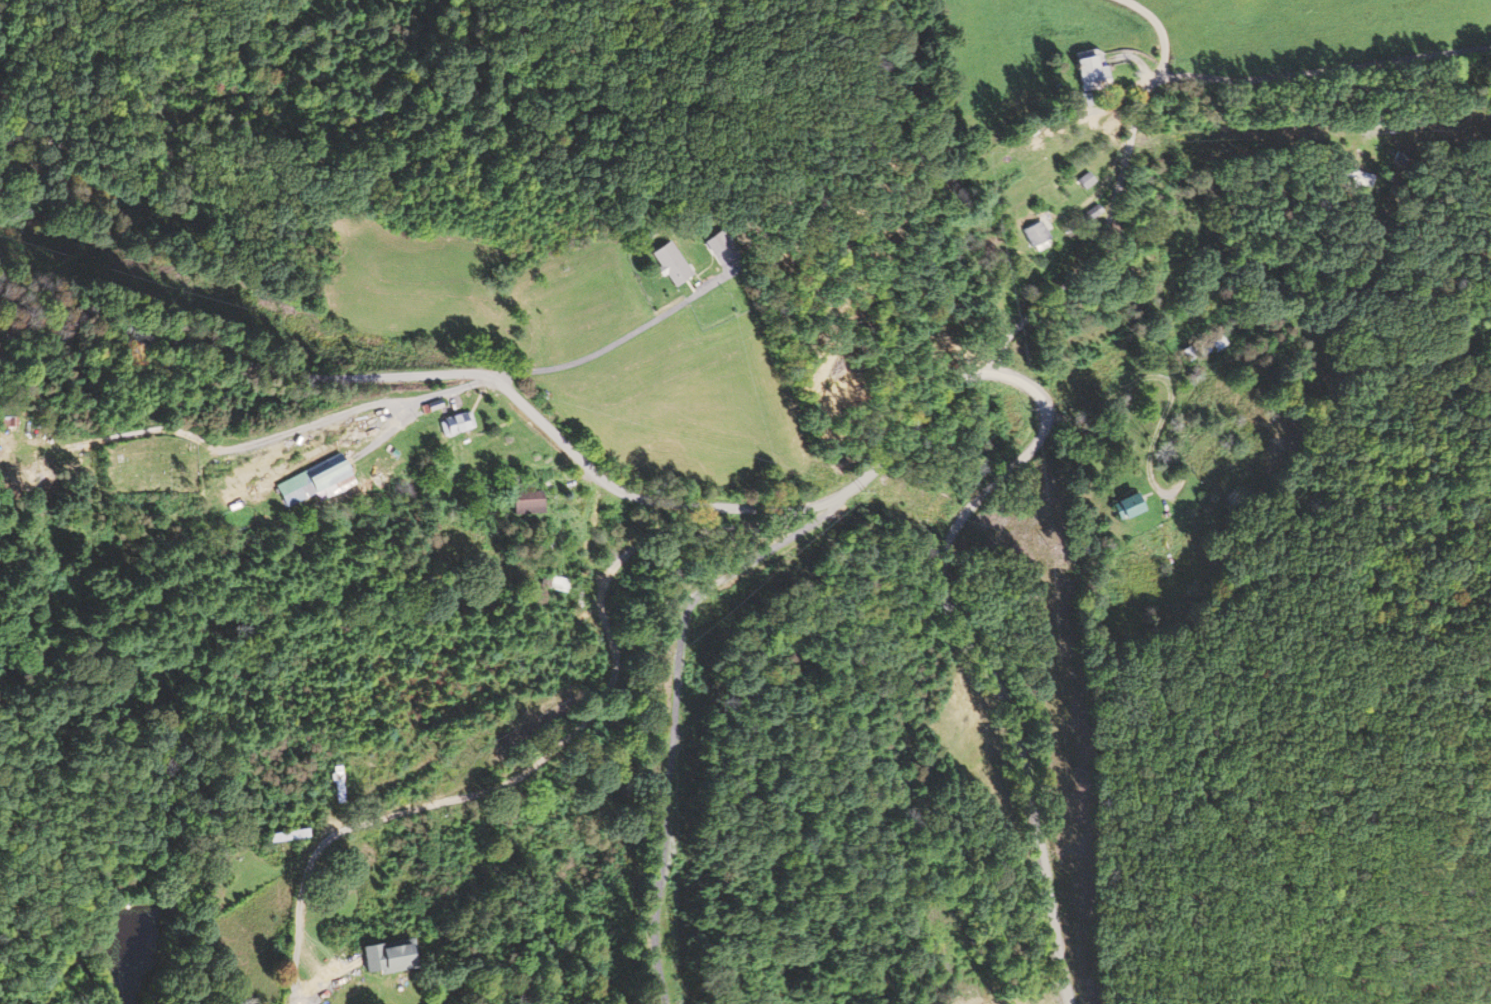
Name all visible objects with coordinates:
building: (1099, 70)
road: (1329, 78)
building: (1382, 157)
building: (1349, 178)
building: (1092, 180)
road: (1121, 184)
building: (1041, 234)
building: (674, 264)
building: (1193, 352)
road: (534, 417)
building: (460, 424)
building: (317, 479)
building: (533, 502)
building: (1134, 506)
building: (561, 584)
road: (979, 658)
building: (340, 784)
building: (292, 836)
building: (397, 957)

